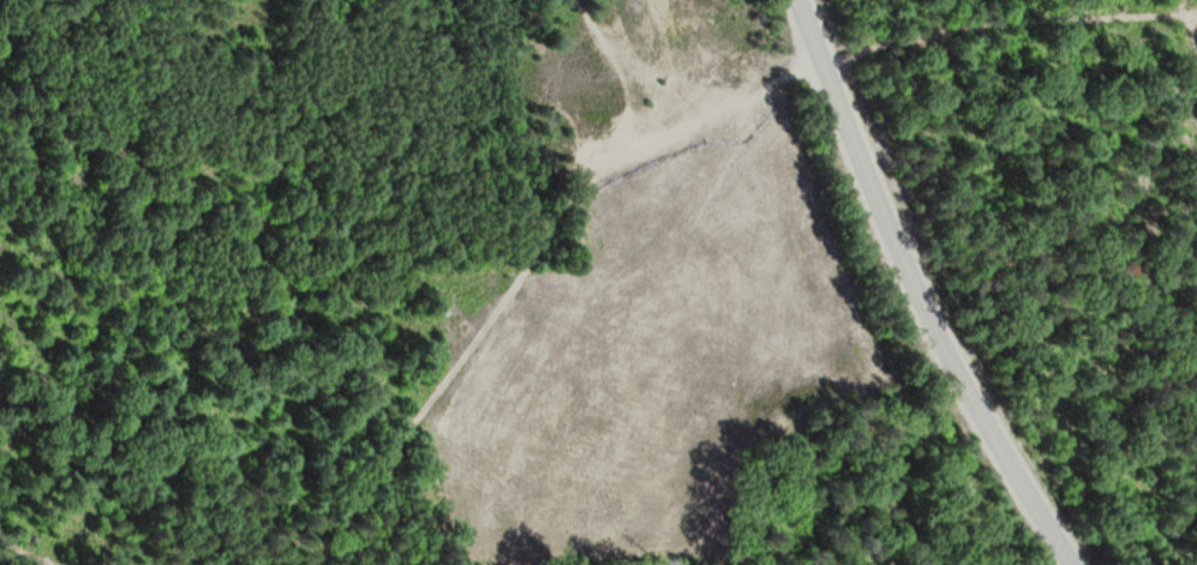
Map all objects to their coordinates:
road: (1007, 26)
road: (533, 258)
road: (917, 291)
road: (22, 553)

